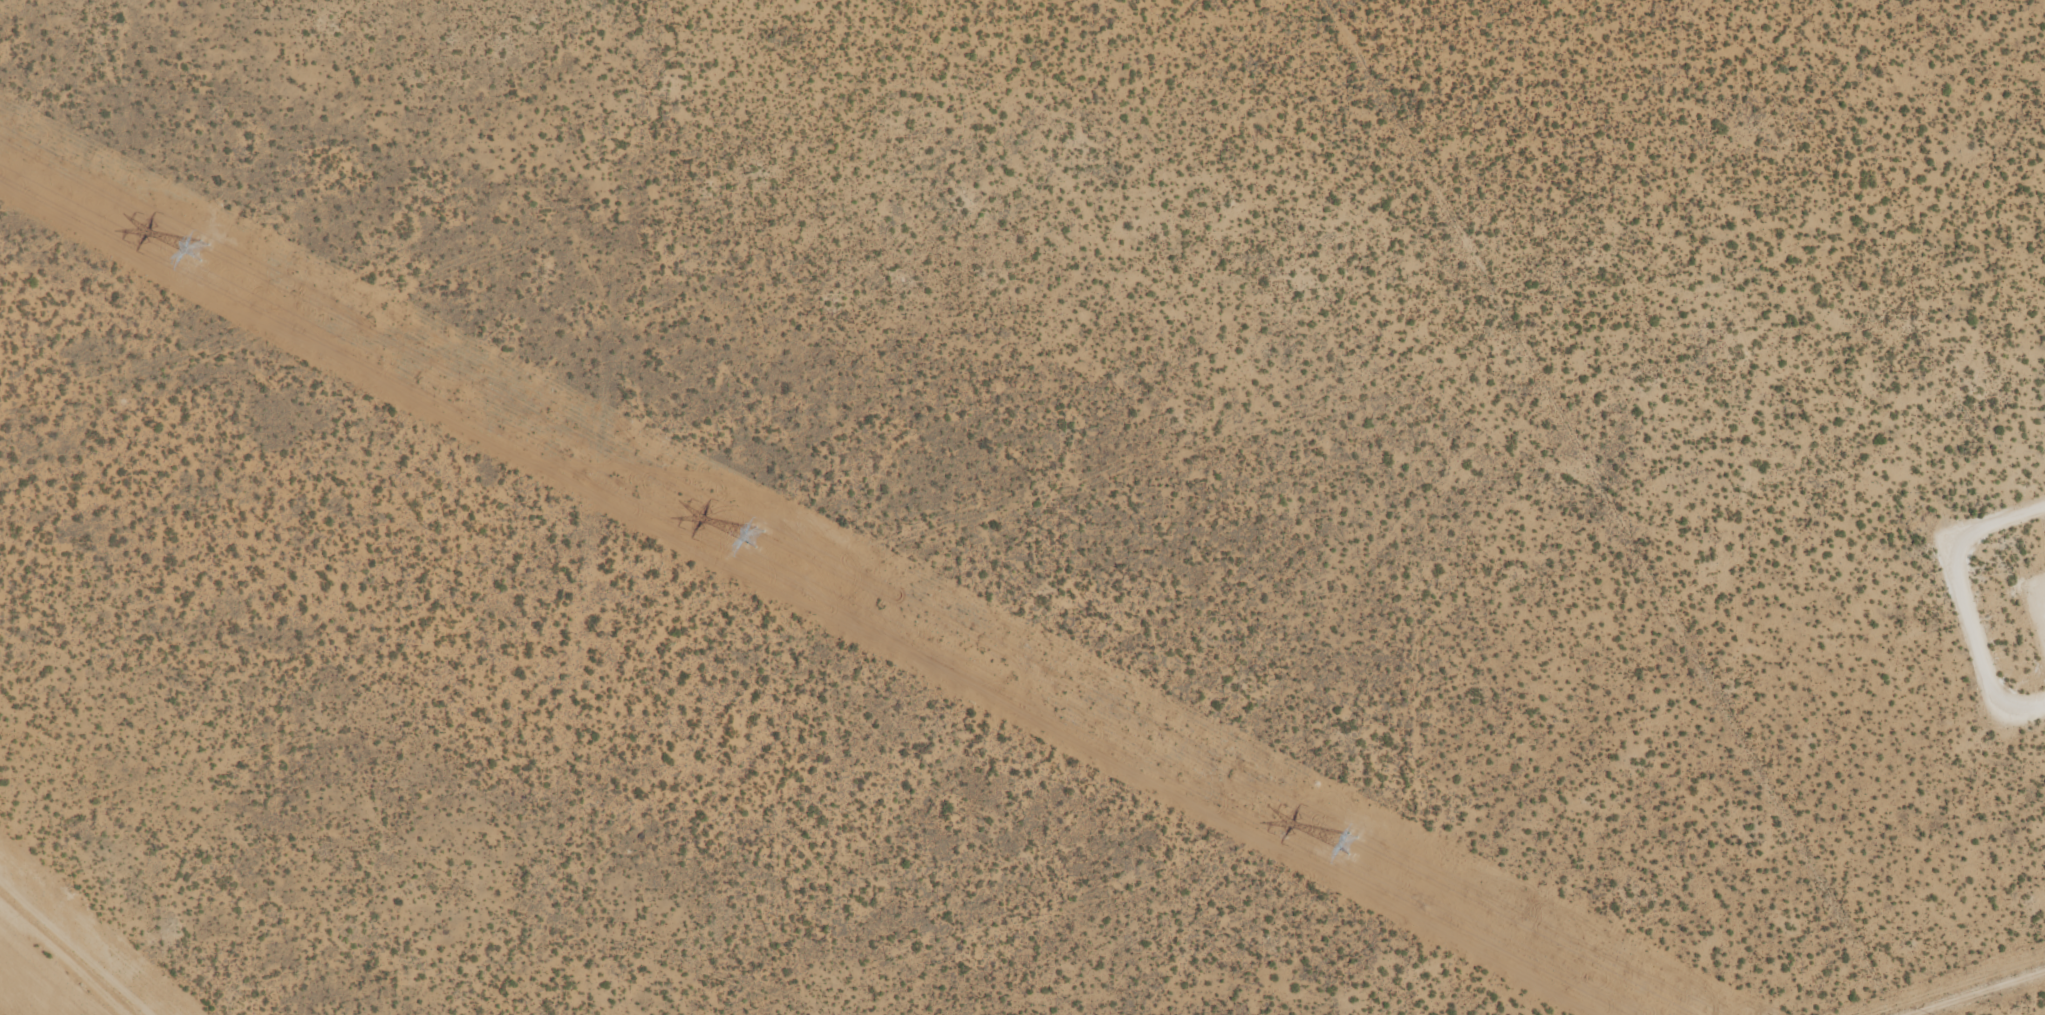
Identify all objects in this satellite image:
power tower: (199, 252)
power tower: (755, 538)
power tower: (1349, 844)

